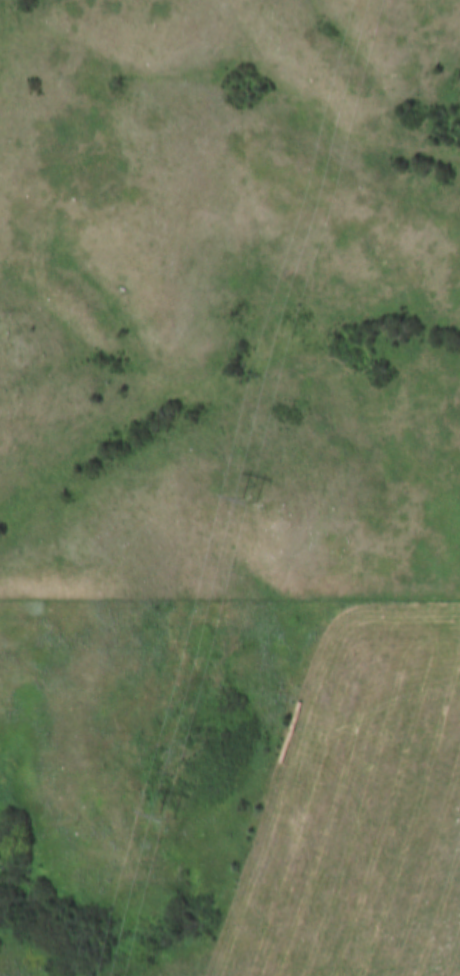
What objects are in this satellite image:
power tower: (253, 498)
power tower: (169, 816)

